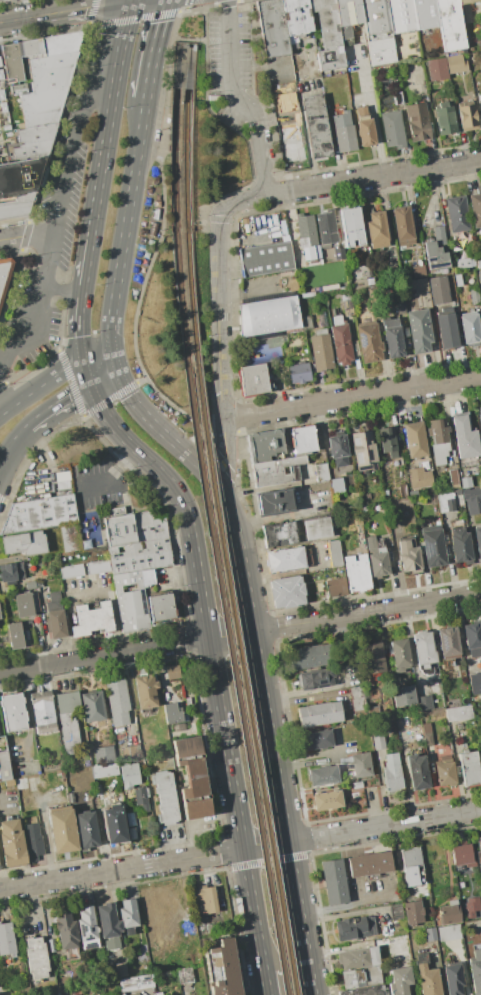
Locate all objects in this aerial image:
building: (1, 0)
traffic signals: (136, 0)
building: (480, 0)
road: (186, 4)
road: (95, 8)
building: (471, 8)
road: (68, 11)
building: (463, 12)
building: (425, 14)
building: (401, 15)
building: (297, 16)
road: (142, 17)
building: (346, 18)
building: (450, 25)
road: (96, 26)
road: (206, 26)
building: (273, 28)
building: (377, 31)
building: (327, 35)
road: (185, 39)
road: (153, 47)
building: (37, 51)
road: (261, 59)
building: (456, 64)
building: (436, 69)
parking lot: (236, 72)
road: (167, 84)
building: (41, 87)
building: (396, 98)
road: (237, 100)
building: (480, 105)
road: (372, 110)
building: (467, 113)
road: (107, 118)
building: (445, 119)
road: (62, 121)
building: (417, 122)
building: (316, 126)
building: (365, 126)
building: (392, 129)
road: (304, 130)
building: (344, 132)
building: (33, 142)
road: (72, 148)
railway: (173, 162)
railway: (185, 162)
road: (253, 174)
road: (373, 177)
road: (264, 181)
building: (19, 185)
road: (246, 200)
building: (475, 209)
building: (457, 214)
building: (351, 226)
building: (403, 226)
building: (325, 228)
road: (123, 230)
building: (306, 230)
building: (377, 230)
road: (28, 235)
road: (26, 236)
building: (437, 251)
building: (336, 252)
building: (266, 259)
building: (478, 264)
road: (84, 265)
building: (385, 270)
building: (418, 271)
building: (361, 272)
building: (4, 274)
building: (450, 278)
building: (369, 281)
building: (416, 285)
road: (12, 288)
road: (60, 289)
building: (439, 290)
building: (474, 296)
railway: (179, 300)
railway: (190, 300)
road: (36, 303)
building: (346, 303)
building: (400, 307)
road: (218, 312)
building: (267, 316)
road: (77, 325)
building: (470, 329)
building: (418, 330)
building: (447, 331)
building: (393, 338)
building: (340, 342)
building: (368, 342)
building: (320, 350)
road: (50, 353)
traffic signals: (81, 361)
road: (97, 361)
traffic signals: (114, 362)
building: (299, 373)
traffic signals: (87, 380)
building: (256, 380)
road: (70, 381)
road: (40, 384)
road: (2, 385)
road: (67, 392)
road: (112, 396)
road: (351, 397)
road: (1, 406)
road: (1, 413)
building: (479, 420)
building: (465, 437)
road: (10, 440)
building: (415, 440)
building: (438, 440)
building: (302, 441)
building: (387, 442)
road: (208, 443)
building: (263, 445)
building: (338, 449)
road: (224, 450)
building: (363, 451)
road: (29, 459)
building: (275, 470)
building: (321, 472)
road: (109, 475)
building: (419, 477)
building: (453, 478)
road: (211, 481)
building: (465, 482)
parking lot: (98, 484)
road: (171, 485)
building: (336, 486)
building: (402, 491)
road: (3, 501)
building: (274, 502)
building: (445, 502)
building: (473, 504)
building: (39, 513)
road: (279, 515)
building: (133, 526)
building: (317, 528)
building: (278, 533)
building: (70, 538)
building: (478, 540)
building: (25, 543)
building: (460, 545)
building: (432, 546)
building: (334, 554)
building: (139, 555)
building: (376, 557)
building: (408, 557)
building: (285, 560)
building: (97, 566)
building: (11, 571)
building: (70, 571)
building: (357, 573)
building: (147, 577)
building: (26, 584)
building: (335, 586)
building: (287, 591)
road: (111, 596)
building: (130, 601)
building: (24, 604)
building: (161, 608)
road: (366, 612)
building: (55, 616)
building: (0, 617)
building: (92, 619)
road: (229, 634)
building: (12, 635)
building: (473, 639)
building: (447, 643)
building: (424, 648)
road: (103, 654)
building: (399, 654)
building: (310, 656)
building: (372, 658)
building: (171, 672)
building: (317, 678)
railway: (233, 679)
railway: (242, 679)
building: (475, 682)
building: (145, 691)
building: (403, 696)
building: (117, 701)
building: (425, 703)
building: (480, 704)
building: (42, 711)
building: (92, 711)
building: (14, 712)
building: (458, 712)
building: (172, 714)
building: (319, 714)
building: (69, 722)
building: (426, 733)
building: (109, 739)
building: (315, 740)
building: (378, 743)
building: (150, 744)
building: (131, 753)
building: (102, 755)
building: (360, 764)
building: (4, 767)
building: (104, 769)
building: (469, 769)
building: (417, 771)
building: (444, 774)
building: (129, 775)
building: (322, 776)
building: (191, 777)
building: (392, 779)
building: (166, 797)
building: (140, 800)
building: (325, 800)
road: (234, 805)
road: (282, 812)
building: (130, 818)
building: (114, 825)
road: (383, 825)
building: (62, 829)
building: (86, 830)
building: (132, 833)
building: (33, 839)
building: (12, 843)
road: (264, 845)
building: (462, 856)
building: (479, 856)
building: (369, 864)
building: (412, 867)
road: (120, 868)
road: (3, 870)
building: (458, 880)
building: (333, 882)
parking lot: (372, 893)
building: (461, 896)
building: (204, 899)
road: (26, 903)
road: (346, 906)
building: (395, 912)
building: (128, 913)
building: (413, 913)
building: (449, 913)
building: (467, 913)
building: (477, 917)
building: (108, 926)
building: (87, 928)
building: (353, 928)
building: (66, 930)
building: (448, 933)
building: (430, 935)
building: (6, 941)
building: (399, 948)
building: (36, 958)
building: (357, 958)
building: (222, 968)
building: (120, 970)
building: (476, 972)
building: (184, 976)
building: (427, 977)
building: (352, 978)
building: (453, 978)
building: (399, 981)
building: (135, 983)
road: (264, 984)
building: (364, 991)
building: (158, 993)

